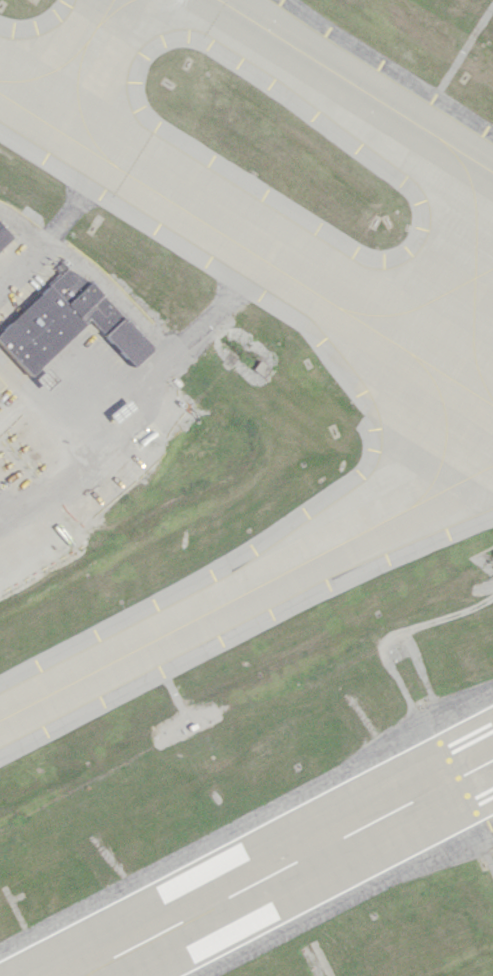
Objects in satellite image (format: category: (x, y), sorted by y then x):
airport taxiway: (110, 2)
airport taxiway: (113, 10)
airport taxiway: (47, 72)
airport taxiway: (76, 83)
airport taxiway: (355, 85)
building: (3, 234)
airport taxiway: (246, 249)
airport taxiway: (478, 264)
airport taxiway: (418, 306)
building: (65, 321)
building: (44, 379)
airport taxiway: (446, 434)
parking lot: (75, 443)
airport: (246, 488)
airport taxiway: (246, 591)
road: (412, 700)
airport runway: (283, 868)
road: (324, 960)
airport taxiway: (84, 972)

